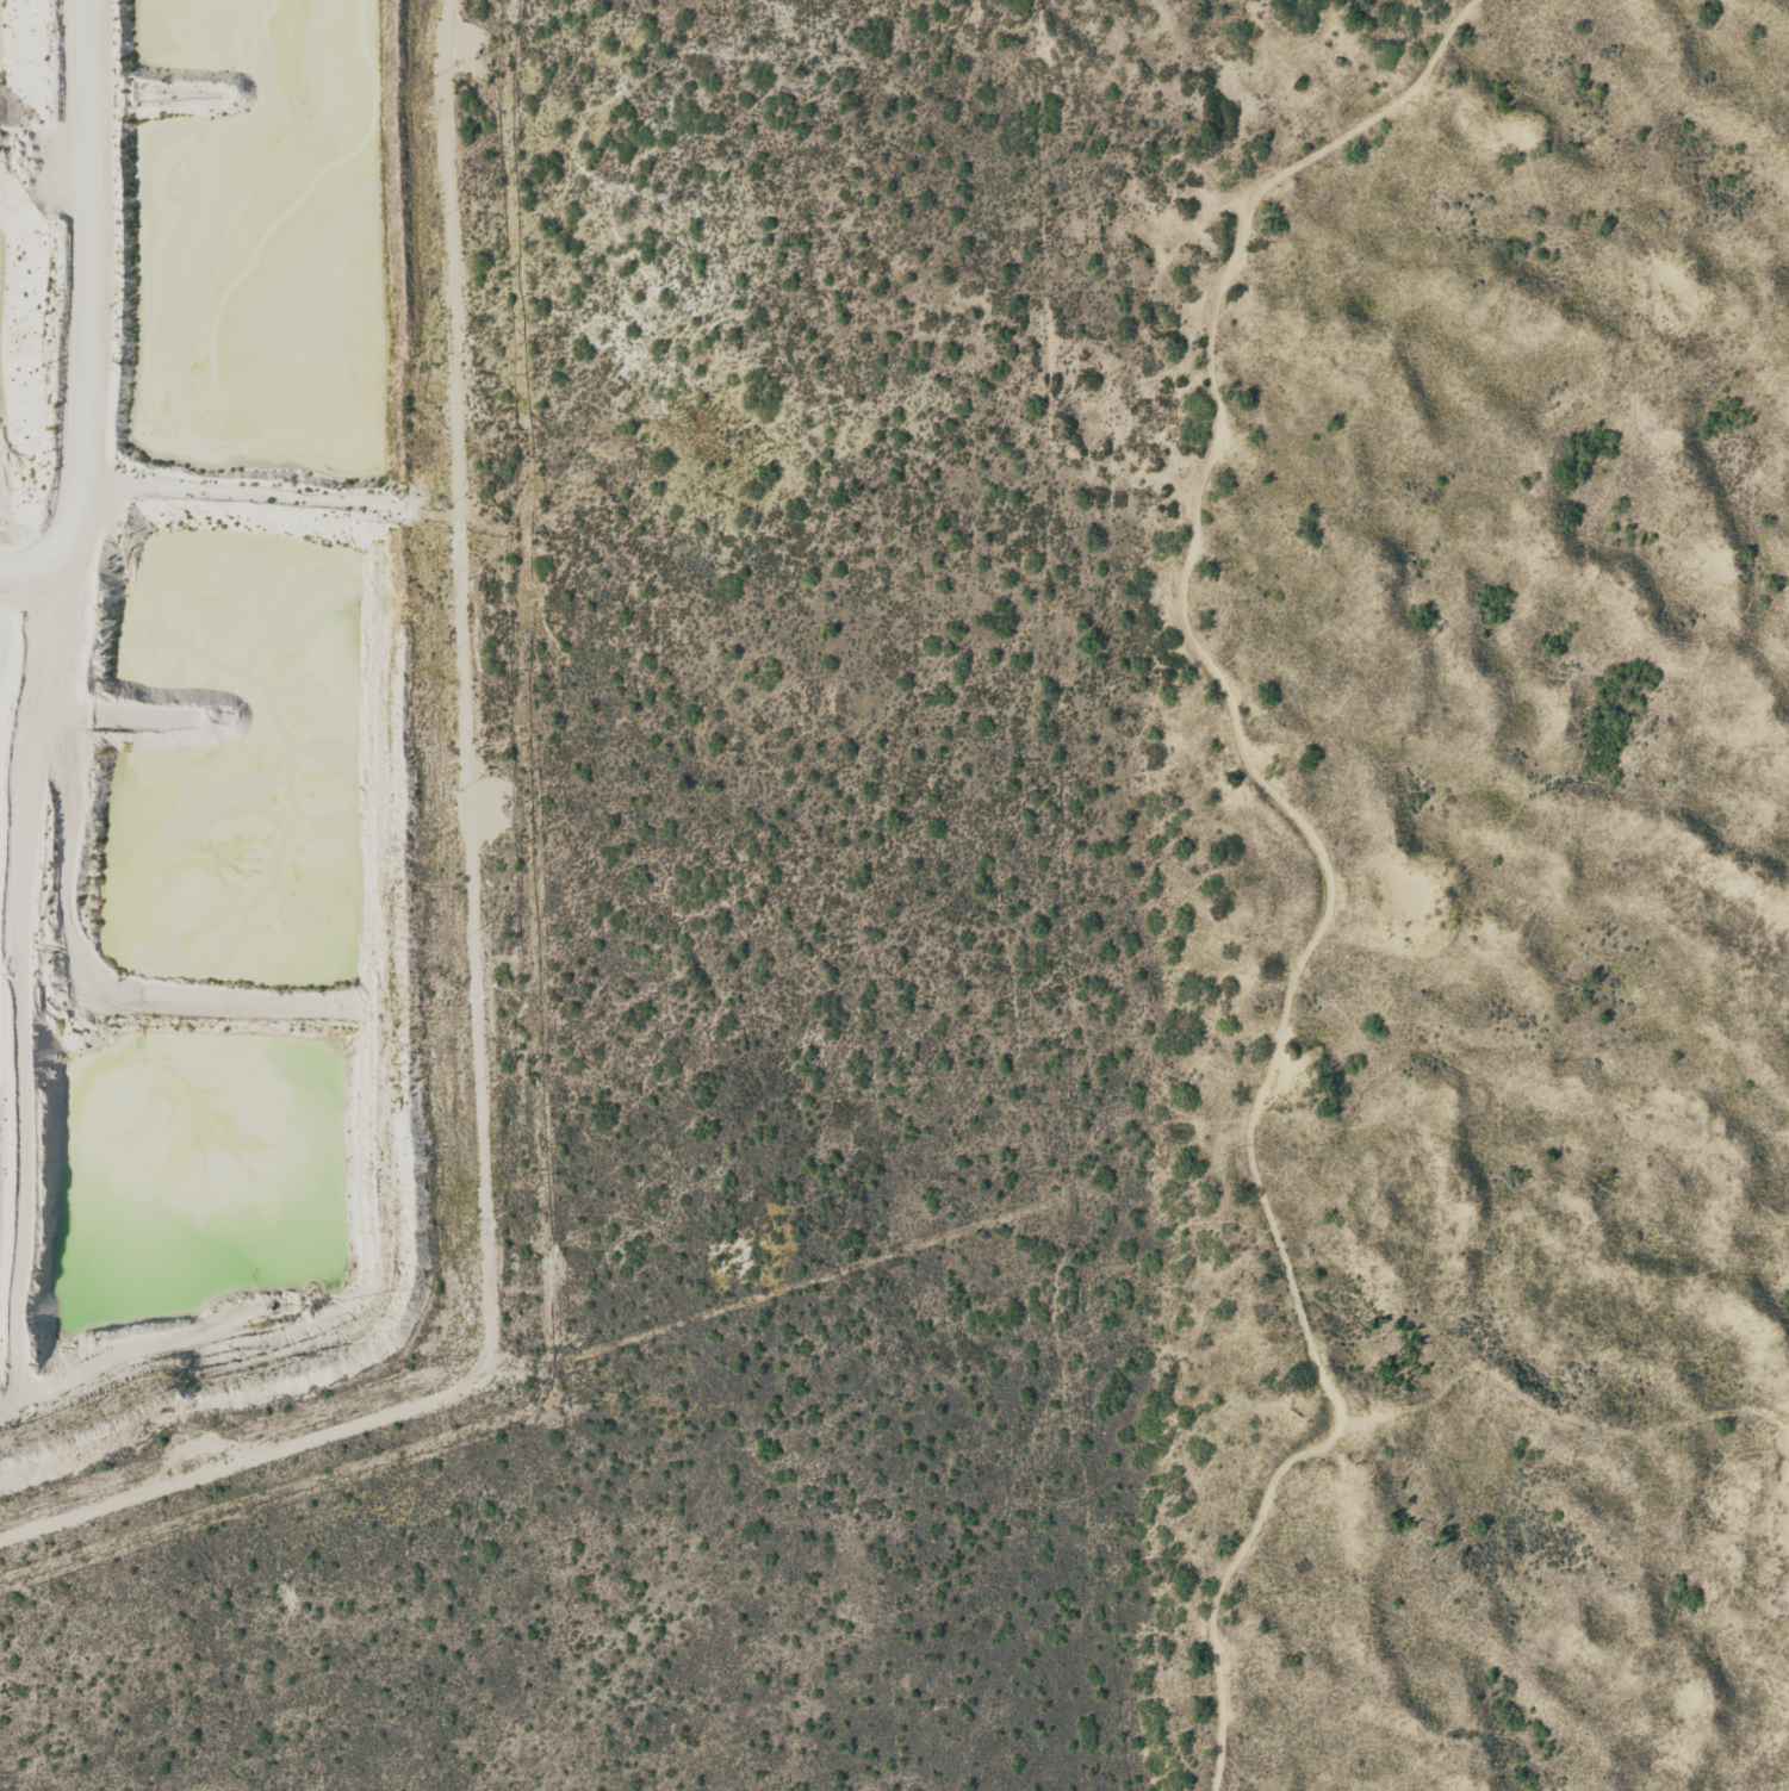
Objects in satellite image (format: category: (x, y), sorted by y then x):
quarry: (237, 754)

